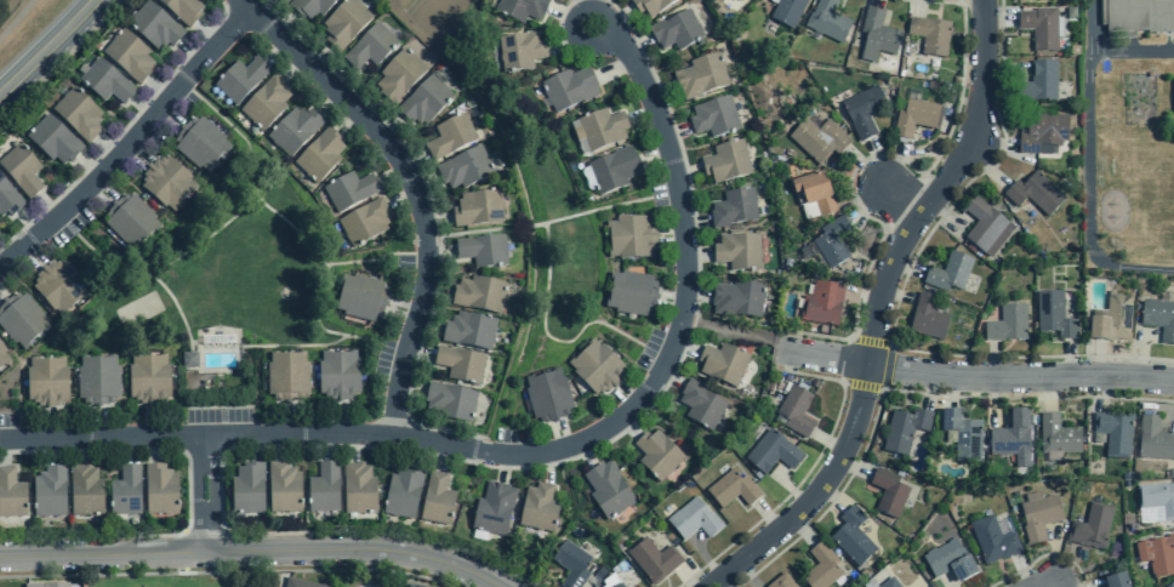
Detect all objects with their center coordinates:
building: (736, 0)
building: (1049, 0)
road: (958, 1)
road: (598, 2)
road: (577, 4)
road: (876, 4)
road: (230, 5)
road: (585, 6)
building: (650, 6)
road: (919, 6)
road: (263, 7)
building: (310, 7)
building: (522, 8)
building: (182, 10)
road: (560, 12)
building: (787, 12)
road: (621, 15)
building: (1138, 16)
road: (15, 17)
road: (998, 17)
road: (558, 19)
building: (827, 21)
road: (281, 22)
building: (344, 23)
building: (153, 27)
building: (1039, 27)
building: (677, 30)
road: (209, 33)
building: (929, 35)
building: (877, 36)
road: (563, 44)
road: (631, 46)
building: (370, 47)
road: (49, 49)
road: (275, 51)
building: (520, 51)
road: (190, 52)
building: (127, 56)
road: (318, 59)
road: (61, 61)
road: (615, 68)
road: (293, 69)
road: (1003, 70)
road: (336, 75)
building: (399, 75)
building: (699, 76)
building: (240, 80)
building: (104, 81)
road: (181, 81)
building: (1041, 82)
building: (570, 89)
road: (158, 90)
road: (661, 90)
building: (424, 101)
road: (329, 102)
building: (266, 103)
road: (141, 108)
building: (862, 110)
road: (374, 112)
building: (78, 114)
road: (643, 114)
road: (167, 115)
building: (713, 118)
building: (914, 118)
road: (346, 119)
road: (389, 127)
road: (121, 129)
building: (602, 129)
building: (293, 131)
road: (674, 131)
building: (1042, 132)
building: (450, 137)
building: (53, 139)
building: (817, 139)
road: (129, 141)
road: (995, 142)
building: (200, 143)
road: (107, 147)
road: (135, 153)
road: (656, 154)
road: (872, 154)
building: (320, 155)
road: (414, 161)
building: (725, 163)
road: (877, 164)
road: (894, 164)
road: (89, 166)
road: (986, 166)
building: (465, 167)
road: (867, 169)
building: (21, 170)
building: (614, 170)
road: (685, 172)
road: (392, 173)
road: (253, 178)
road: (422, 182)
building: (166, 183)
road: (411, 186)
road: (99, 190)
building: (349, 190)
building: (814, 192)
road: (665, 194)
building: (1033, 194)
road: (862, 195)
road: (401, 196)
building: (8, 199)
road: (900, 200)
road: (867, 203)
road: (47, 206)
building: (733, 207)
building: (478, 209)
road: (944, 213)
road: (433, 218)
road: (435, 218)
building: (130, 221)
building: (365, 222)
road: (545, 222)
road: (694, 222)
road: (28, 224)
building: (985, 227)
road: (432, 236)
road: (672, 236)
building: (631, 238)
building: (832, 241)
building: (481, 250)
park: (547, 250)
road: (438, 251)
building: (737, 251)
road: (420, 252)
road: (30, 253)
road: (695, 255)
road: (159, 263)
road: (325, 264)
road: (905, 268)
road: (866, 269)
park: (218, 272)
building: (948, 273)
building: (58, 287)
road: (435, 291)
building: (631, 293)
building: (479, 295)
road: (895, 295)
road: (696, 296)
road: (864, 296)
road: (897, 296)
building: (361, 298)
building: (737, 298)
road: (172, 300)
road: (672, 301)
road: (684, 301)
building: (821, 303)
road: (877, 308)
road: (404, 309)
building: (1054, 315)
building: (927, 318)
building: (1112, 319)
building: (1159, 319)
building: (21, 320)
road: (686, 321)
building: (1007, 324)
road: (424, 326)
building: (468, 330)
road: (739, 330)
road: (545, 332)
road: (868, 341)
road: (309, 344)
road: (391, 346)
road: (684, 346)
road: (782, 349)
road: (654, 351)
road: (1139, 351)
road: (417, 352)
building: (2, 358)
road: (993, 359)
road: (1068, 359)
building: (189, 360)
road: (1098, 360)
building: (723, 364)
building: (460, 365)
road: (508, 365)
road: (887, 366)
building: (597, 367)
road: (526, 370)
road: (978, 375)
building: (286, 376)
building: (338, 376)
road: (507, 377)
road: (669, 377)
building: (148, 380)
building: (97, 381)
building: (46, 382)
road: (861, 384)
road: (409, 387)
road: (930, 389)
road: (901, 391)
road: (948, 391)
road: (1105, 392)
road: (1048, 393)
building: (547, 397)
road: (626, 397)
road: (993, 399)
building: (450, 401)
road: (495, 403)
building: (701, 405)
road: (1158, 408)
building: (796, 411)
road: (1173, 417)
road: (289, 420)
road: (340, 420)
road: (400, 420)
road: (148, 422)
road: (98, 423)
road: (47, 426)
road: (628, 426)
building: (904, 429)
road: (195, 434)
building: (1113, 434)
building: (962, 435)
building: (1058, 435)
road: (559, 437)
building: (1011, 438)
building: (1153, 439)
road: (505, 440)
road: (437, 441)
road: (828, 441)
road: (278, 444)
road: (326, 444)
road: (352, 444)
road: (250, 445)
road: (154, 446)
road: (129, 448)
road: (205, 448)
road: (52, 449)
road: (79, 449)
road: (2, 450)
road: (415, 450)
road: (483, 451)
road: (583, 452)
building: (771, 452)
road: (441, 454)
building: (656, 455)
road: (461, 460)
road: (204, 461)
road: (503, 466)
road: (545, 466)
road: (853, 467)
building: (1093, 469)
road: (802, 477)
building: (1125, 477)
building: (283, 488)
building: (247, 489)
building: (323, 489)
building: (358, 489)
building: (731, 489)
road: (788, 489)
building: (160, 490)
building: (606, 490)
building: (85, 491)
road: (187, 491)
building: (49, 492)
building: (125, 492)
building: (888, 492)
building: (403, 494)
building: (11, 495)
road: (832, 495)
building: (1157, 498)
building: (437, 500)
building: (537, 508)
building: (492, 509)
road: (766, 515)
building: (1038, 517)
building: (693, 519)
building: (1092, 526)
road: (800, 529)
road: (206, 531)
road: (205, 532)
building: (851, 537)
building: (992, 540)
road: (252, 551)
building: (1157, 554)
road: (1041, 555)
road: (705, 558)
road: (1054, 558)
building: (652, 559)
building: (948, 560)
building: (570, 564)
road: (1064, 565)
building: (820, 568)
road: (227, 571)
road: (1024, 572)
road: (746, 575)
road: (688, 576)
road: (366, 577)
park: (178, 581)
building: (780, 581)
building: (1116, 581)
building: (300, 583)
building: (889, 583)
road: (947, 583)
road: (1041, 583)
building: (46, 585)
road: (1067, 585)
road: (365, 586)
building: (409, 586)
building: (617, 586)
road: (1031, 586)

